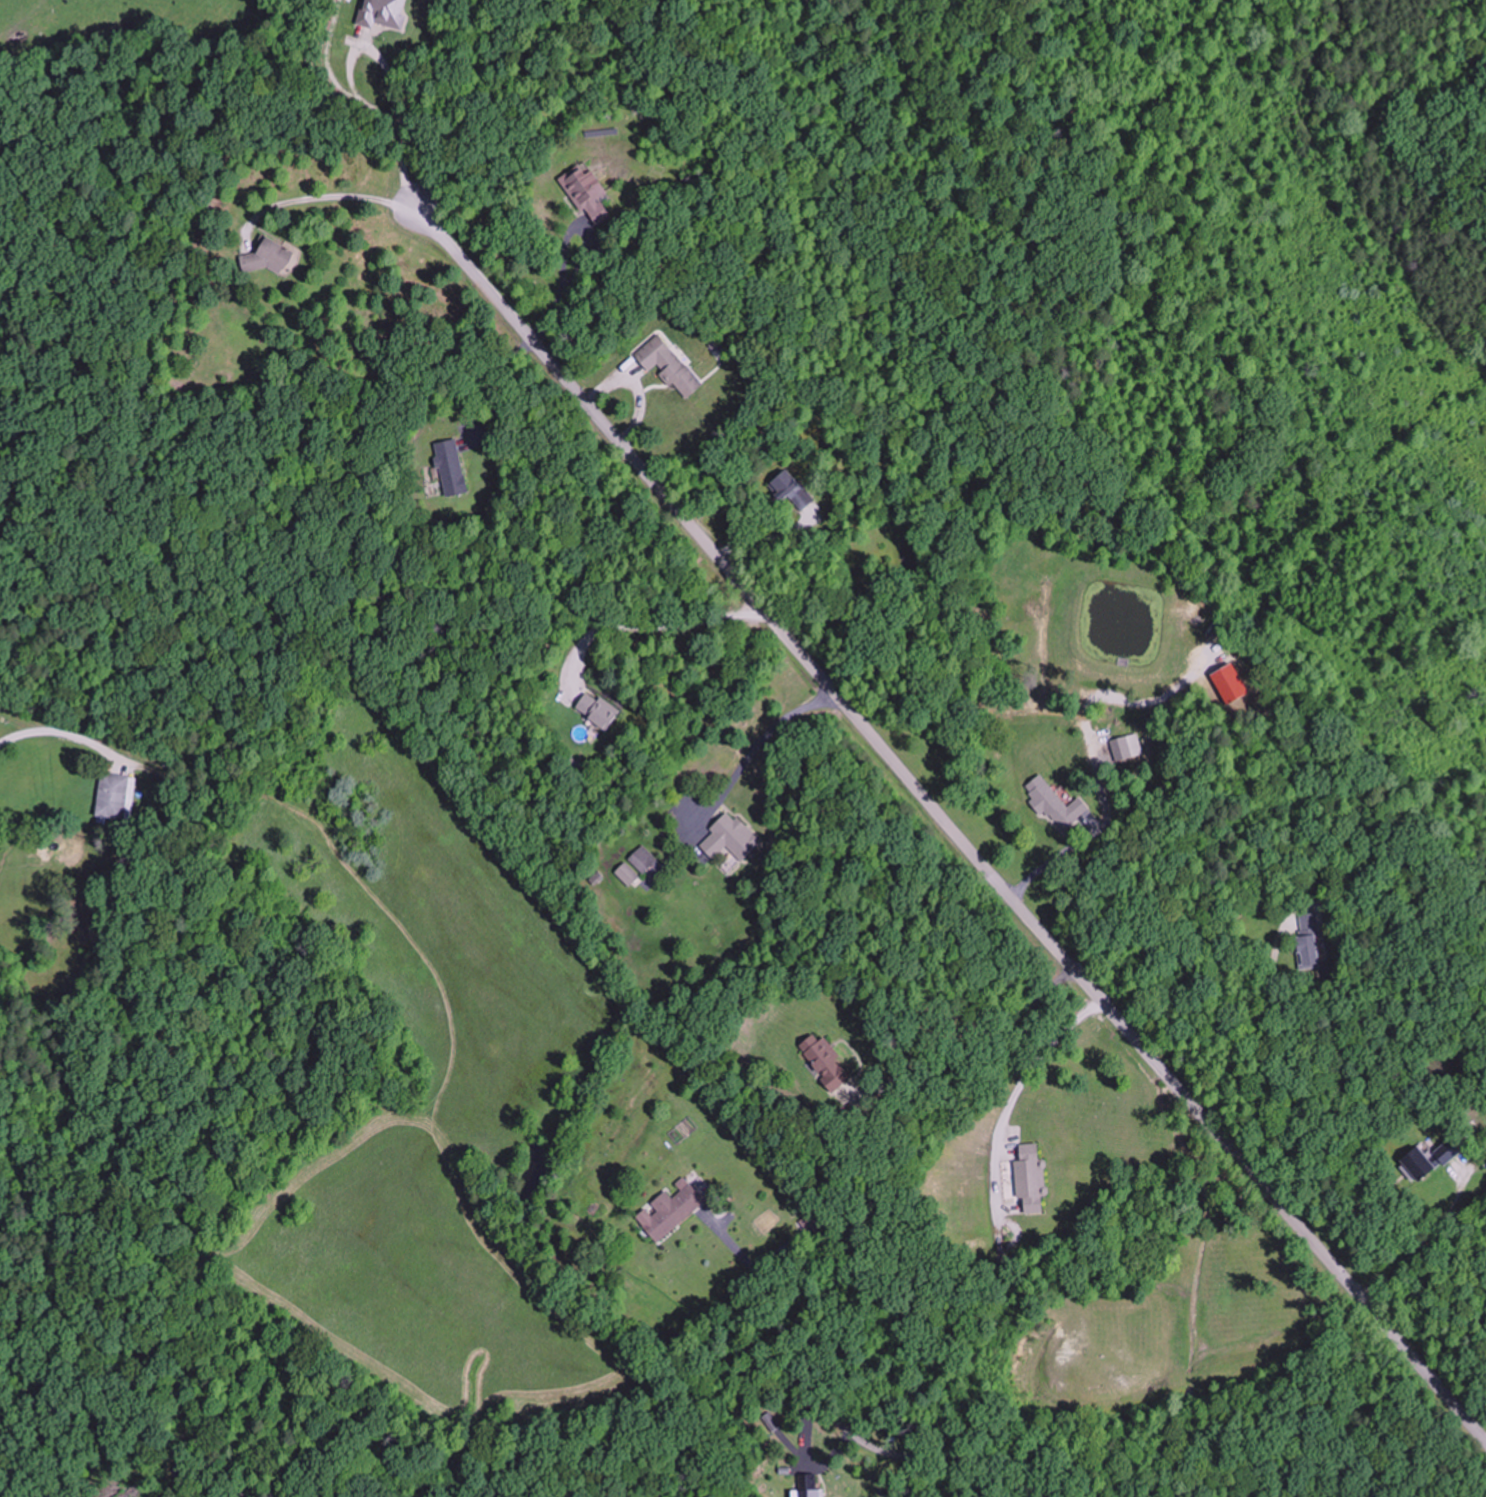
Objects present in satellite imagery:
building: (380, 13)
building: (583, 191)
building: (263, 258)
building: (666, 365)
building: (448, 467)
building: (788, 488)
building: (597, 710)
road: (91, 745)
building: (1126, 747)
building: (114, 796)
building: (1054, 804)
road: (942, 820)
building: (728, 838)
building: (642, 859)
building: (1320, 941)
building: (823, 1062)
building: (1443, 1152)
building: (1414, 1162)
building: (1027, 1176)
building: (671, 1210)
road: (1138, 1386)
building: (771, 1421)
building: (807, 1485)

